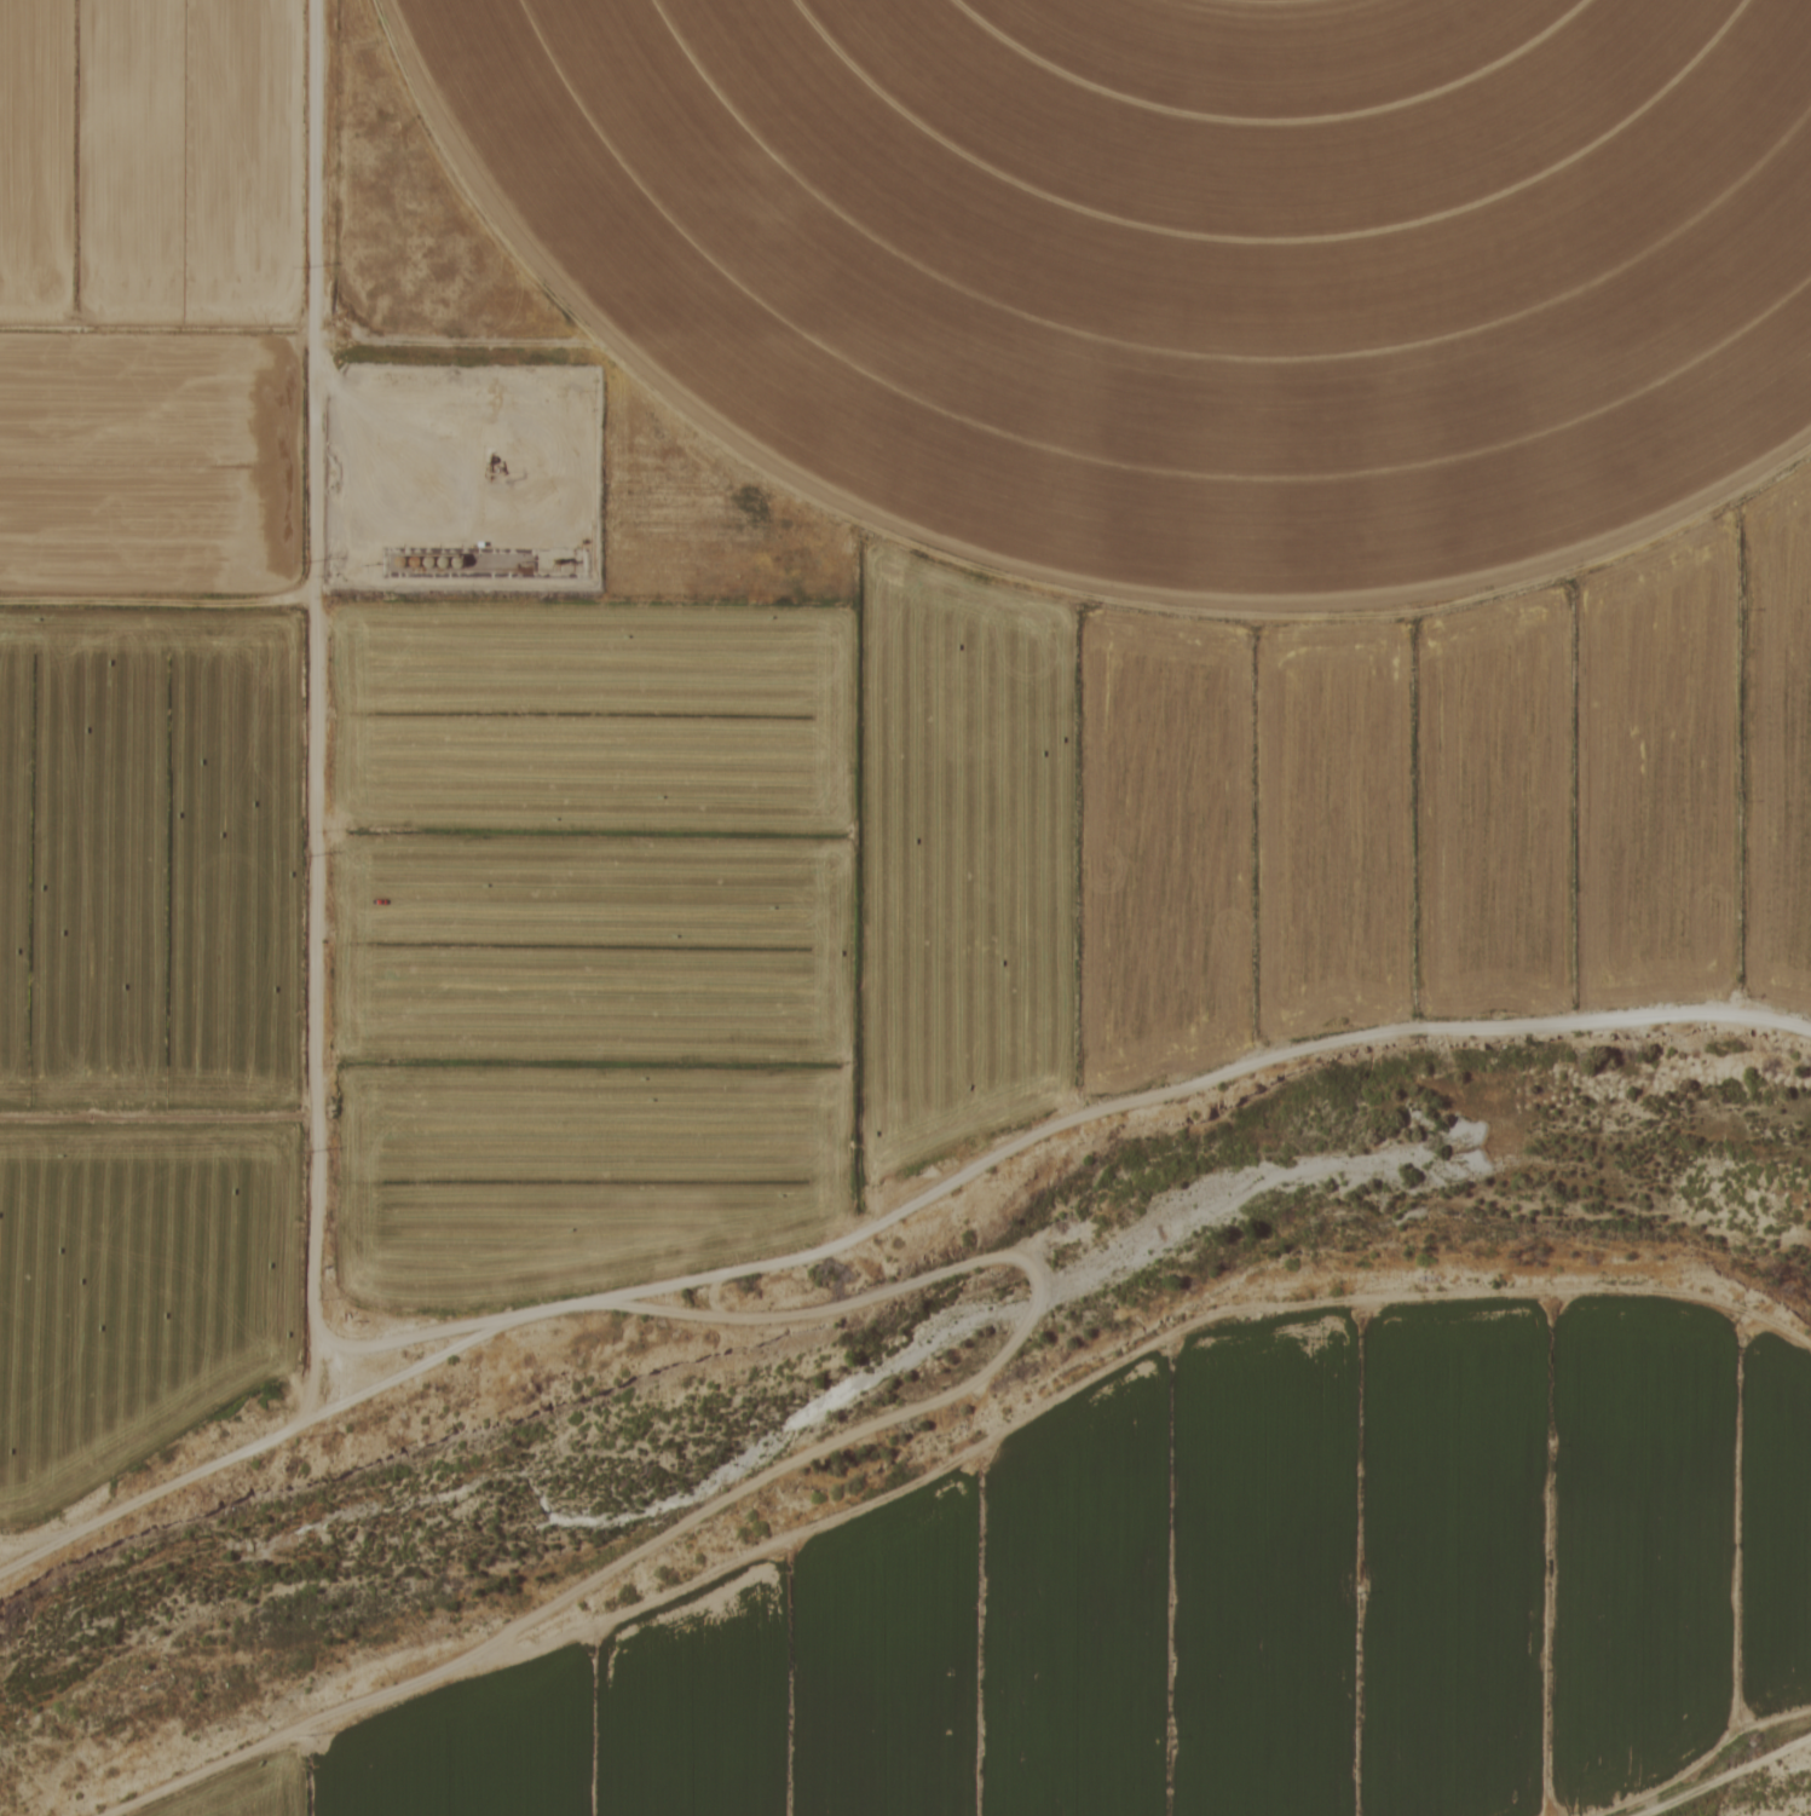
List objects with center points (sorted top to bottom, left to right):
road: (312, 795)
road: (886, 1216)

